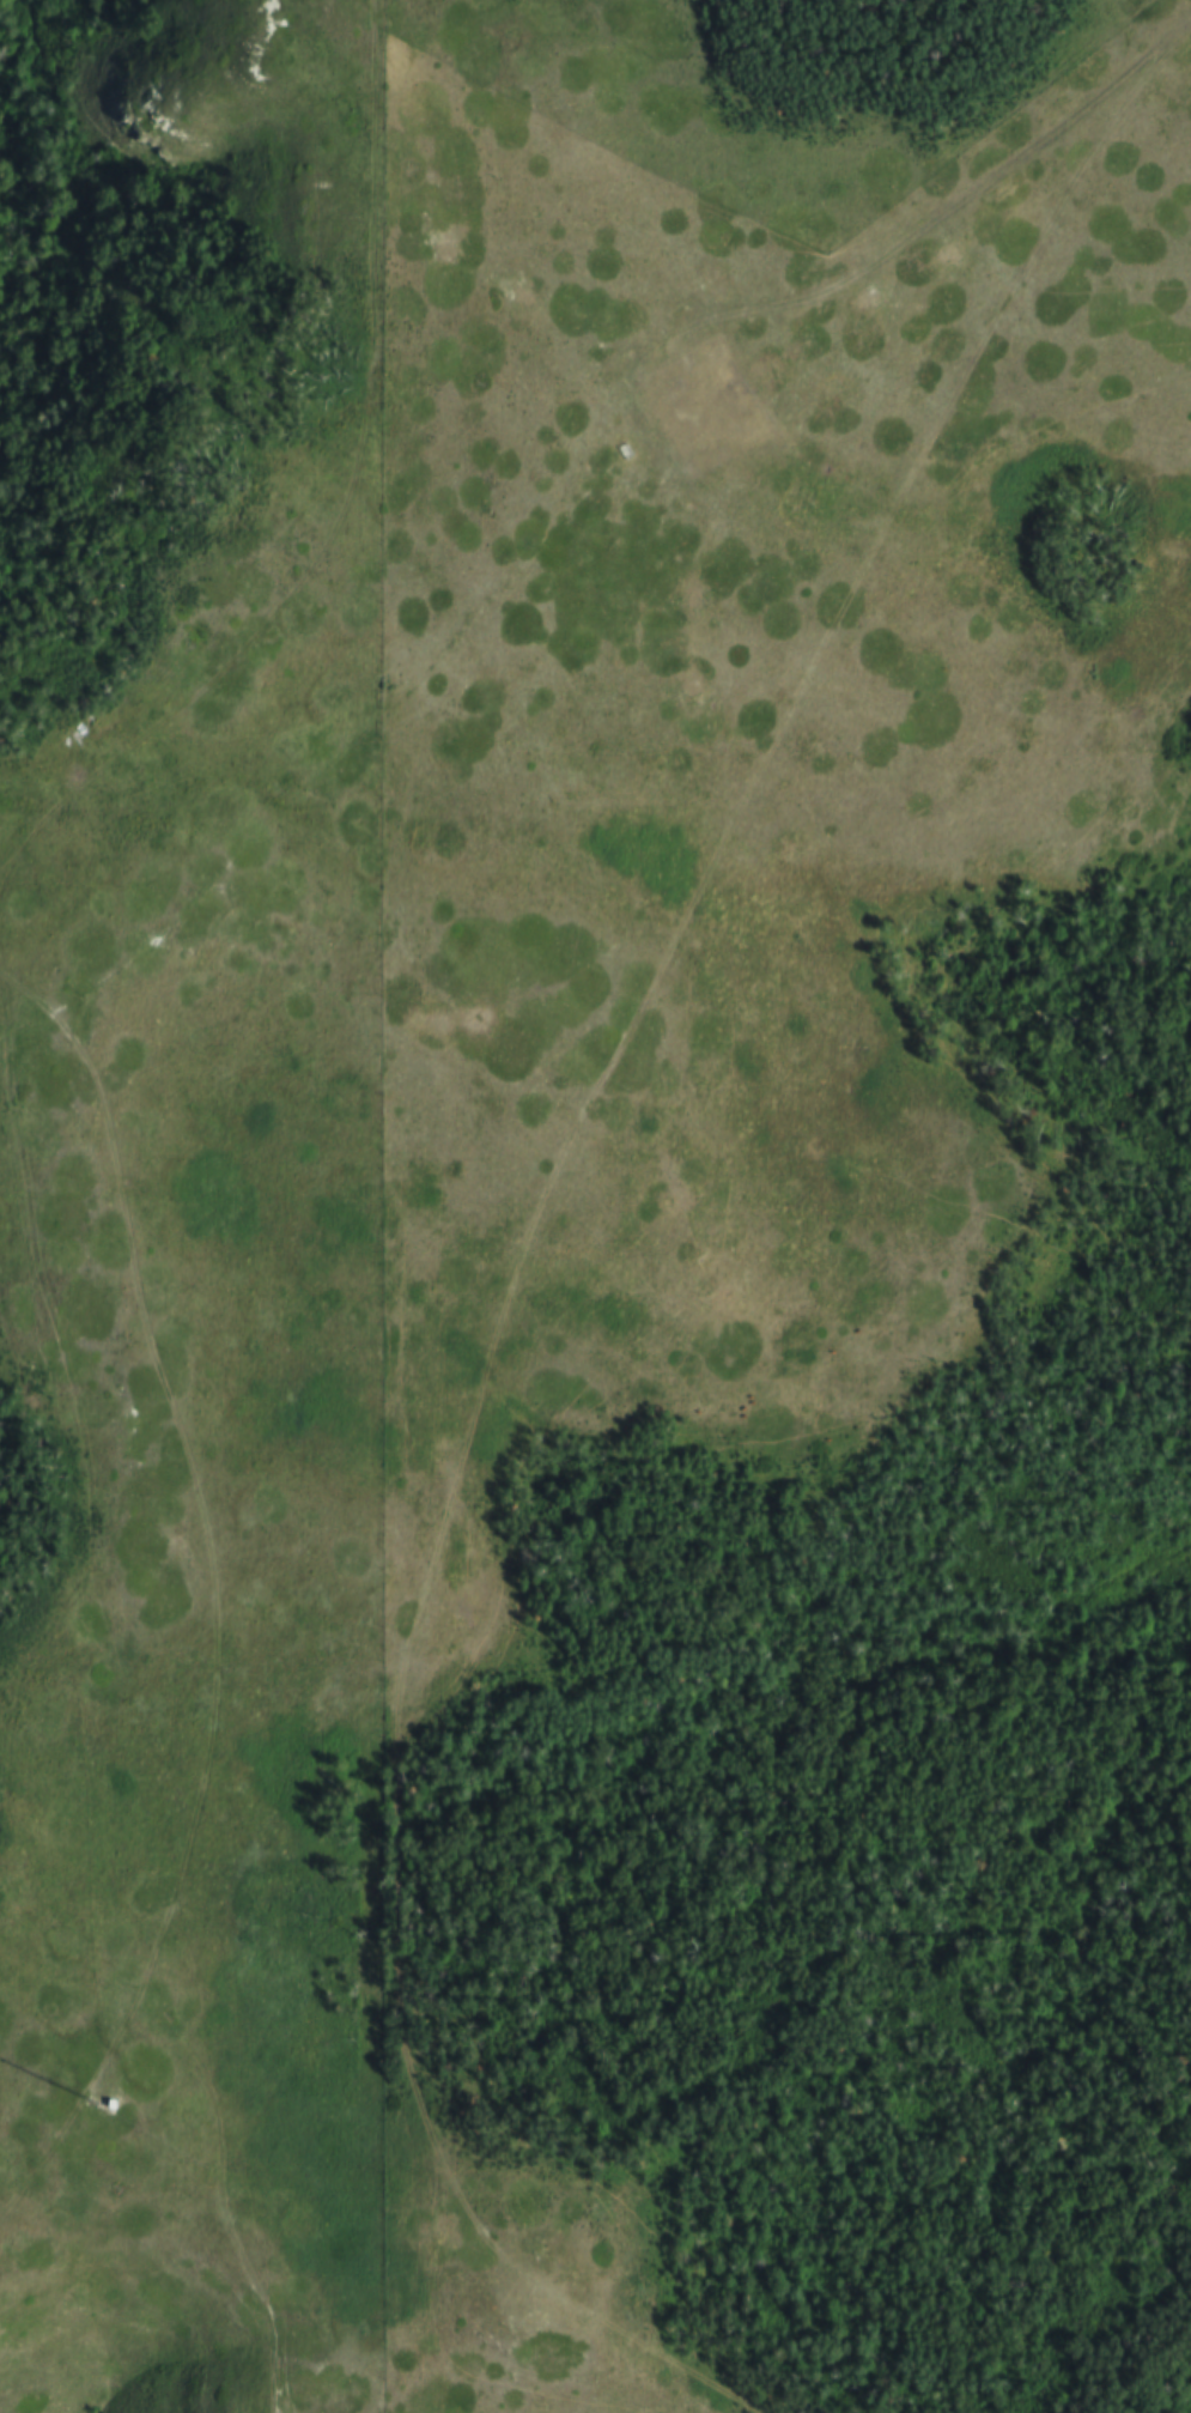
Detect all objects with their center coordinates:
road: (952, 208)
building: (664, 384)
storage tank: (661, 390)
building: (650, 408)
building: (674, 417)
building: (709, 432)
building: (695, 457)

